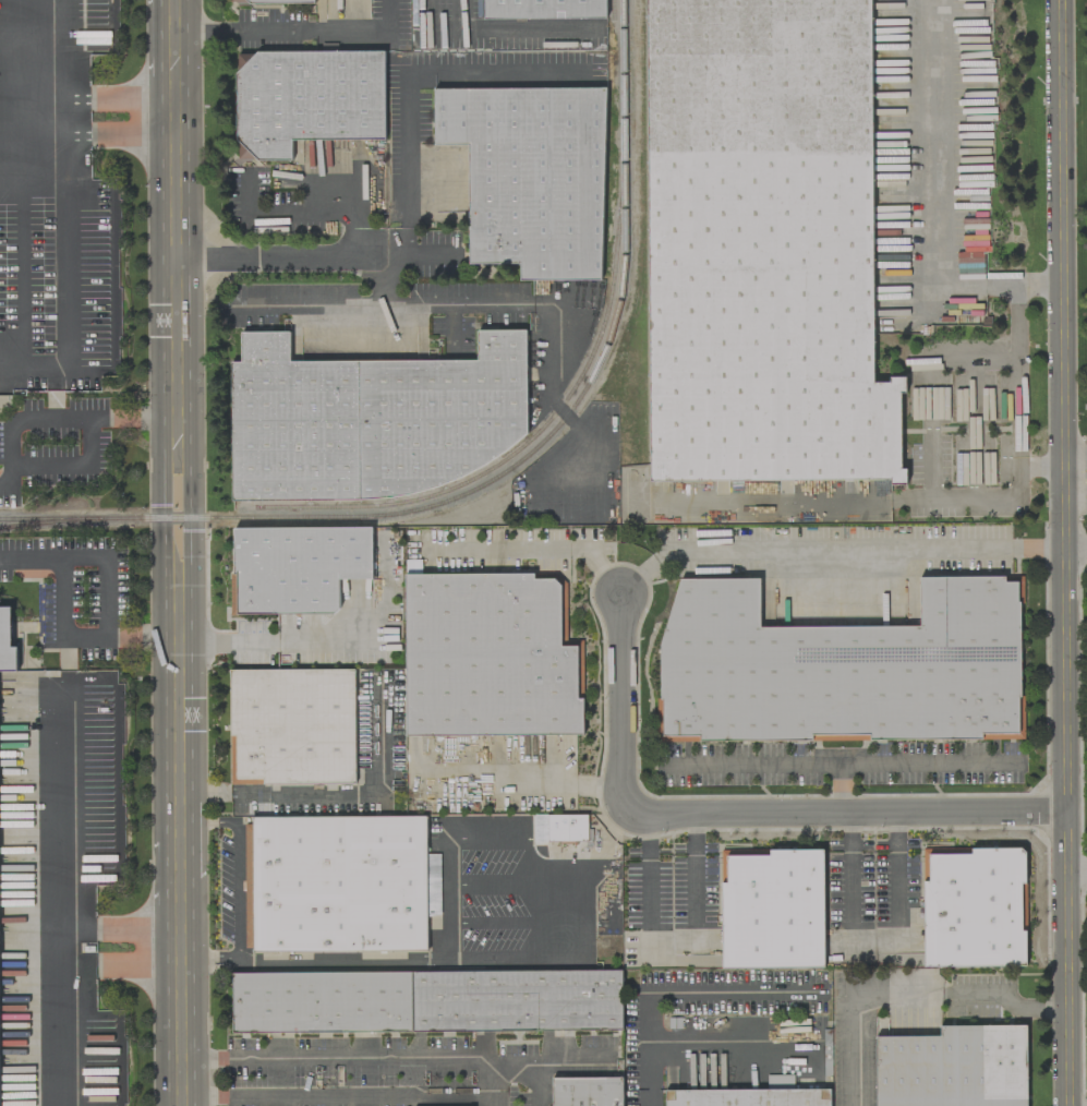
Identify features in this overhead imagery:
building: (269, 1)
building: (544, 9)
railway: (613, 10)
road: (300, 31)
road: (154, 50)
building: (306, 99)
road: (92, 117)
road: (930, 146)
building: (530, 177)
road: (23, 183)
road: (407, 193)
road: (364, 215)
building: (762, 245)
road: (433, 251)
road: (986, 286)
road: (1040, 287)
road: (483, 303)
road: (306, 304)
road: (1019, 377)
road: (188, 393)
road: (95, 416)
road: (126, 416)
road: (173, 417)
building: (379, 419)
railway: (531, 440)
road: (929, 441)
road: (1041, 469)
road: (1075, 469)
road: (158, 471)
railway: (504, 472)
road: (8, 482)
railway: (43, 522)
road: (536, 549)
road: (1075, 550)
road: (908, 551)
road: (1063, 553)
road: (680, 556)
building: (297, 567)
road: (104, 578)
road: (62, 628)
road: (234, 638)
road: (388, 640)
building: (7, 642)
building: (484, 670)
building: (835, 678)
road: (626, 706)
building: (291, 726)
road: (929, 761)
road: (781, 762)
road: (523, 781)
road: (177, 786)
road: (339, 794)
road: (847, 817)
building: (560, 828)
road: (191, 832)
road: (484, 838)
road: (239, 856)
road: (1076, 863)
road: (584, 866)
road: (64, 869)
building: (340, 885)
road: (162, 889)
road: (444, 898)
road: (192, 916)
building: (766, 922)
building: (969, 924)
road: (874, 945)
road: (672, 946)
road: (162, 952)
road: (178, 954)
road: (447, 958)
road: (215, 961)
road: (679, 991)
road: (906, 996)
building: (426, 1001)
road: (165, 1020)
road: (192, 1030)
road: (732, 1041)
road: (387, 1051)
building: (953, 1068)
building: (780, 1082)
road: (534, 1087)
building: (587, 1092)
road: (346, 1097)
building: (748, 1097)
road: (499, 1102)

